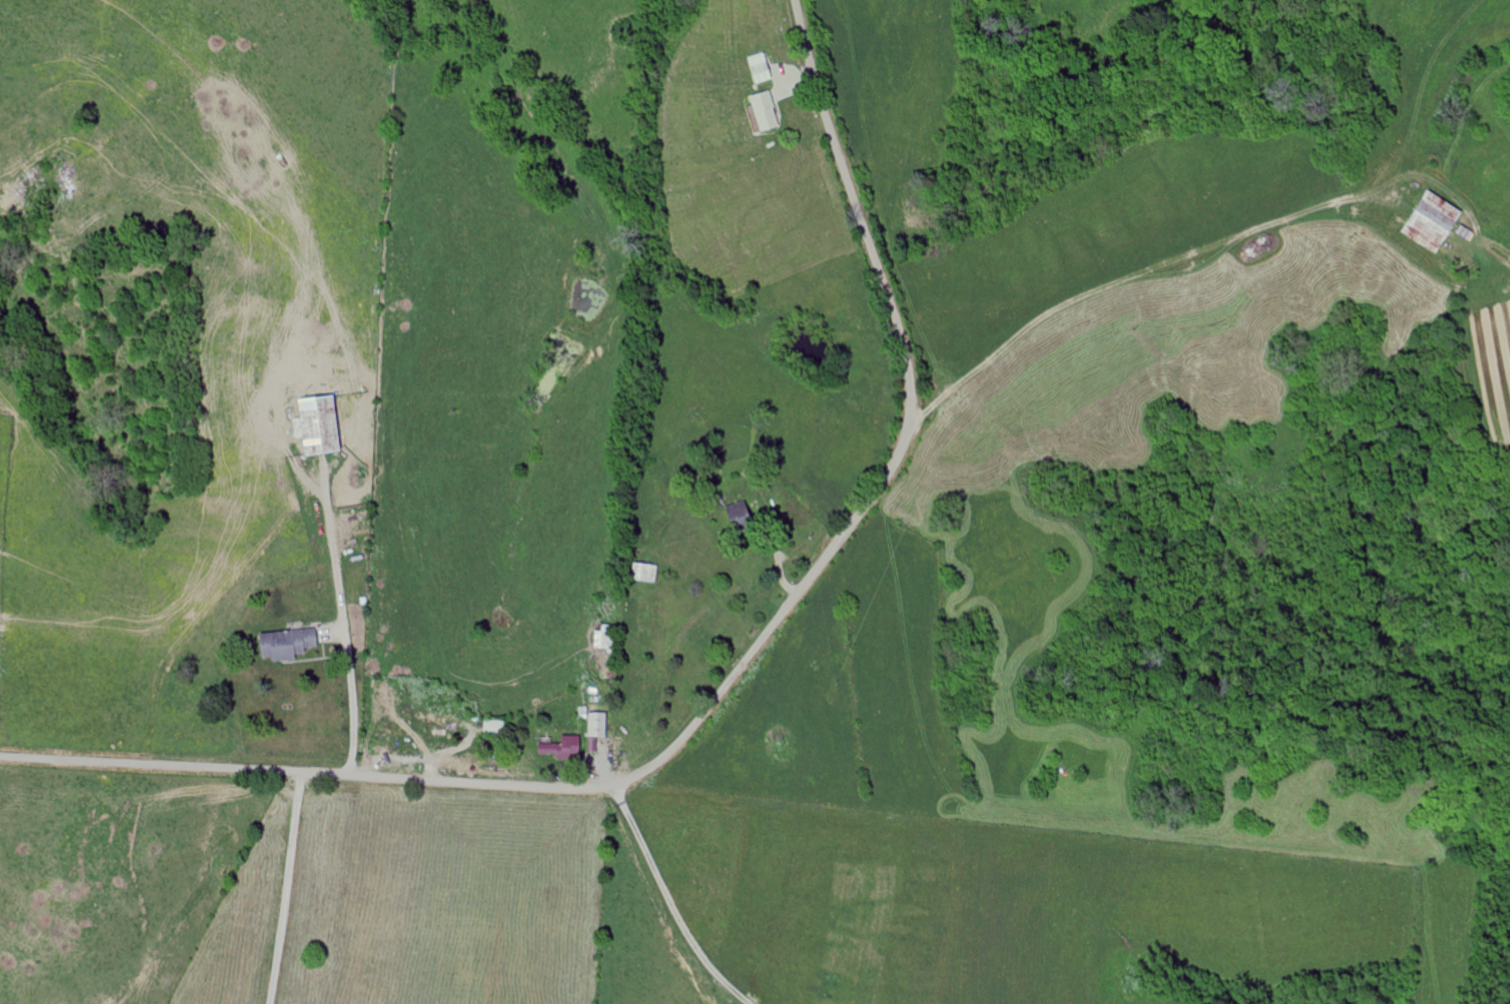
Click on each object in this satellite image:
building: (764, 68)
building: (768, 112)
building: (1437, 223)
road: (1122, 292)
building: (742, 516)
road: (817, 568)
road: (346, 623)
building: (606, 638)
building: (290, 644)
building: (600, 726)
building: (496, 727)
building: (565, 748)
road: (151, 765)
road: (281, 888)
road: (673, 899)

